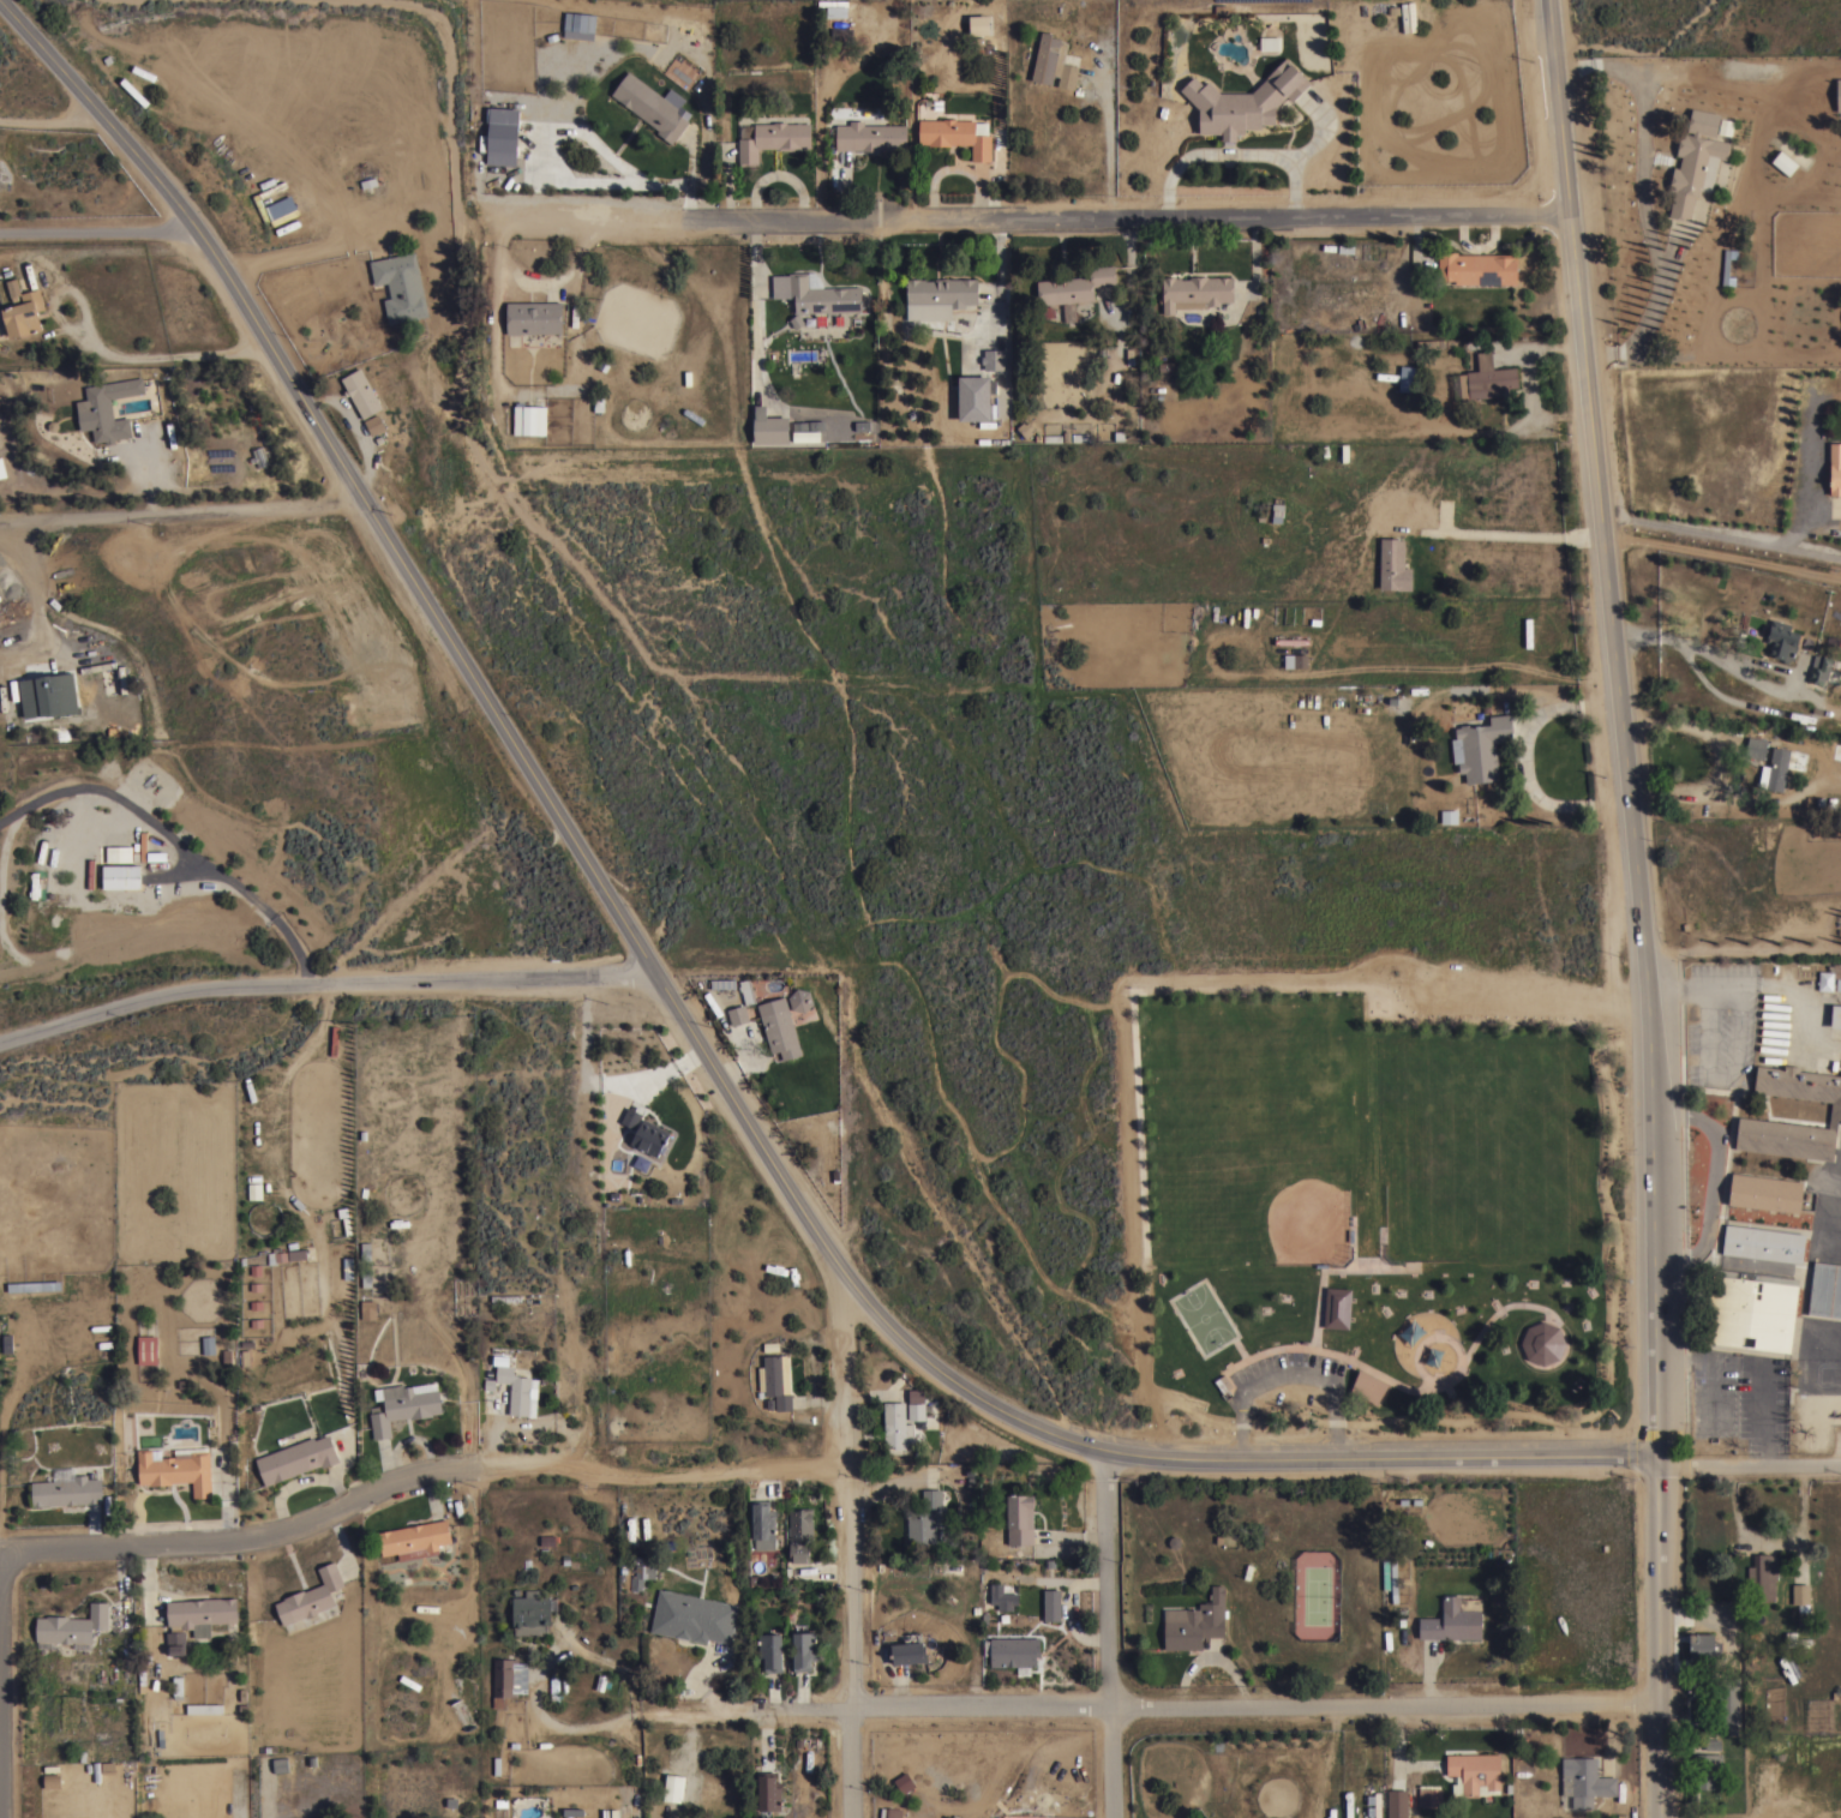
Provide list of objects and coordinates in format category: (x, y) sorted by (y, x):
park: (682, 2)
building: (578, 20)
building: (978, 25)
building: (841, 35)
building: (1053, 61)
building: (1745, 64)
building: (1745, 72)
building: (1839, 94)
building: (1243, 102)
building: (650, 106)
road: (54, 121)
building: (1702, 121)
building: (499, 136)
building: (866, 136)
building: (954, 136)
building: (770, 138)
road: (1110, 146)
building: (1799, 156)
building: (1783, 163)
building: (1693, 170)
building: (278, 206)
road: (1087, 218)
road: (100, 233)
road: (301, 253)
building: (1725, 266)
building: (1476, 268)
building: (400, 286)
building: (1074, 286)
building: (12, 288)
building: (1194, 292)
building: (815, 294)
building: (937, 296)
building: (23, 314)
building: (534, 317)
building: (1437, 343)
road: (112, 355)
building: (994, 359)
building: (1408, 378)
building: (1486, 378)
building: (361, 392)
building: (973, 398)
building: (109, 408)
building: (529, 420)
building: (374, 424)
building: (808, 425)
building: (770, 428)
building: (1024, 428)
road: (149, 467)
building: (1, 469)
building: (1835, 469)
road: (182, 510)
road: (1523, 538)
road: (1722, 554)
building: (1393, 565)
building: (1781, 640)
road: (1678, 641)
building: (1295, 660)
building: (97, 666)
building: (1822, 670)
building: (122, 677)
building: (46, 694)
building: (103, 698)
building: (104, 704)
road: (1624, 726)
building: (1840, 745)
building: (1480, 746)
building: (1755, 748)
road: (1717, 758)
road: (528, 760)
road: (1525, 762)
building: (1774, 769)
building: (1449, 816)
road: (174, 840)
building: (121, 876)
road: (175, 876)
road: (1743, 950)
building: (1829, 977)
road: (324, 980)
building: (722, 983)
building: (746, 990)
building: (799, 998)
building: (737, 1014)
building: (1775, 1015)
building: (1835, 1015)
building: (1775, 1025)
building: (779, 1027)
building: (1775, 1033)
building: (1774, 1042)
building: (1835, 1109)
building: (628, 1117)
building: (647, 1138)
road: (1710, 1180)
building: (1765, 1192)
park: (1392, 1204)
building: (1763, 1243)
building: (365, 1250)
building: (296, 1253)
building: (276, 1256)
building: (348, 1267)
building: (366, 1277)
building: (1824, 1290)
building: (505, 1297)
building: (1338, 1297)
park: (1206, 1308)
building: (367, 1309)
building: (1750, 1309)
building: (1542, 1343)
building: (208, 1344)
building: (146, 1349)
parking lot: (1288, 1362)
building: (775, 1379)
building: (1222, 1382)
building: (1367, 1386)
building: (517, 1387)
building: (403, 1405)
building: (920, 1410)
building: (896, 1424)
road: (1381, 1453)
road: (1750, 1456)
building: (296, 1458)
building: (176, 1470)
road: (659, 1474)
building: (67, 1490)
road: (356, 1501)
building: (925, 1517)
building: (1019, 1518)
building: (763, 1525)
building: (799, 1532)
building: (414, 1538)
road: (113, 1546)
road: (846, 1548)
building: (641, 1576)
building: (1762, 1577)
building: (310, 1596)
building: (1001, 1596)
building: (1801, 1602)
building: (1051, 1604)
building: (532, 1613)
building: (200, 1614)
building: (692, 1616)
building: (1453, 1619)
building: (71, 1625)
building: (1192, 1625)
road: (1110, 1634)
road: (1656, 1636)
building: (1795, 1639)
building: (175, 1642)
building: (1703, 1646)
building: (803, 1650)
building: (908, 1650)
building: (769, 1651)
building: (1013, 1651)
road: (539, 1674)
building: (508, 1679)
building: (554, 1684)
building: (1727, 1703)
building: (204, 1706)
road: (1205, 1706)
road: (692, 1710)
building: (1713, 1744)
building: (280, 1764)
building: (1707, 1768)
building: (1473, 1771)
building: (52, 1780)
building: (1584, 1781)
building: (904, 1782)
building: (672, 1787)
building: (768, 1792)
building: (1429, 1796)
building: (1396, 1802)
building: (1377, 1806)
building: (890, 1812)

